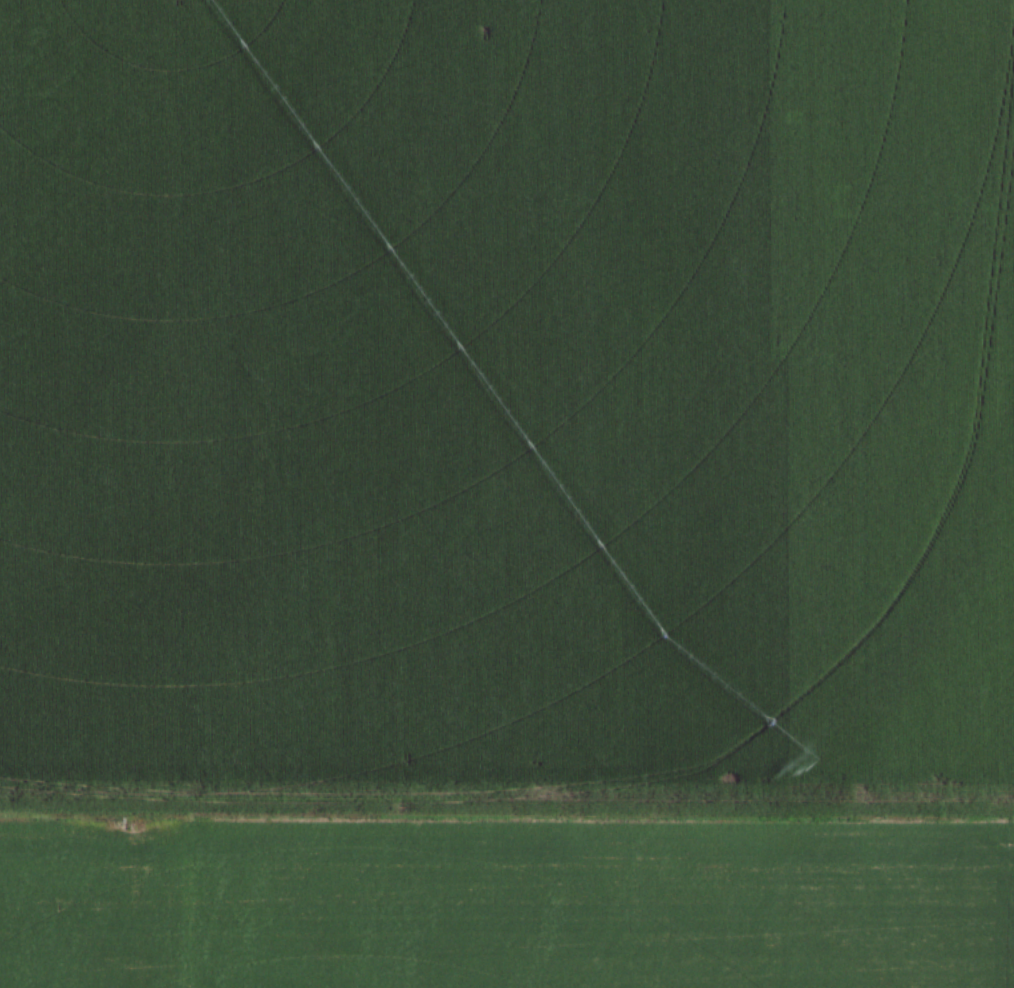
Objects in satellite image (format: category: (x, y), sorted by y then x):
crop: (507, 494)

